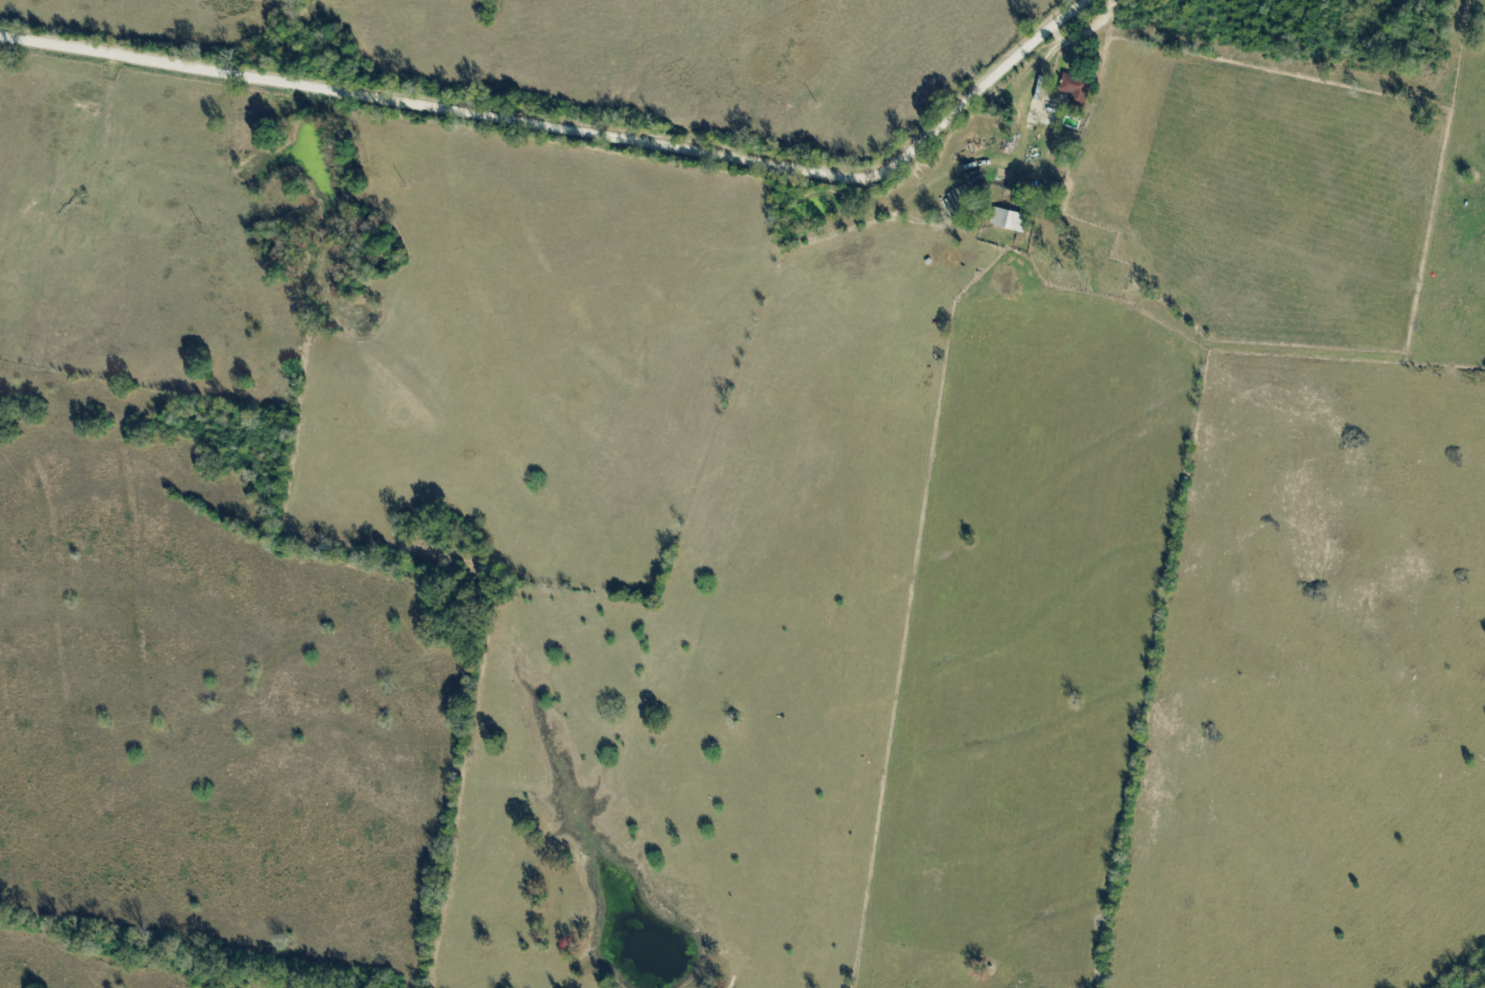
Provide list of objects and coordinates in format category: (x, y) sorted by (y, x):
road: (576, 131)
building: (1011, 220)

